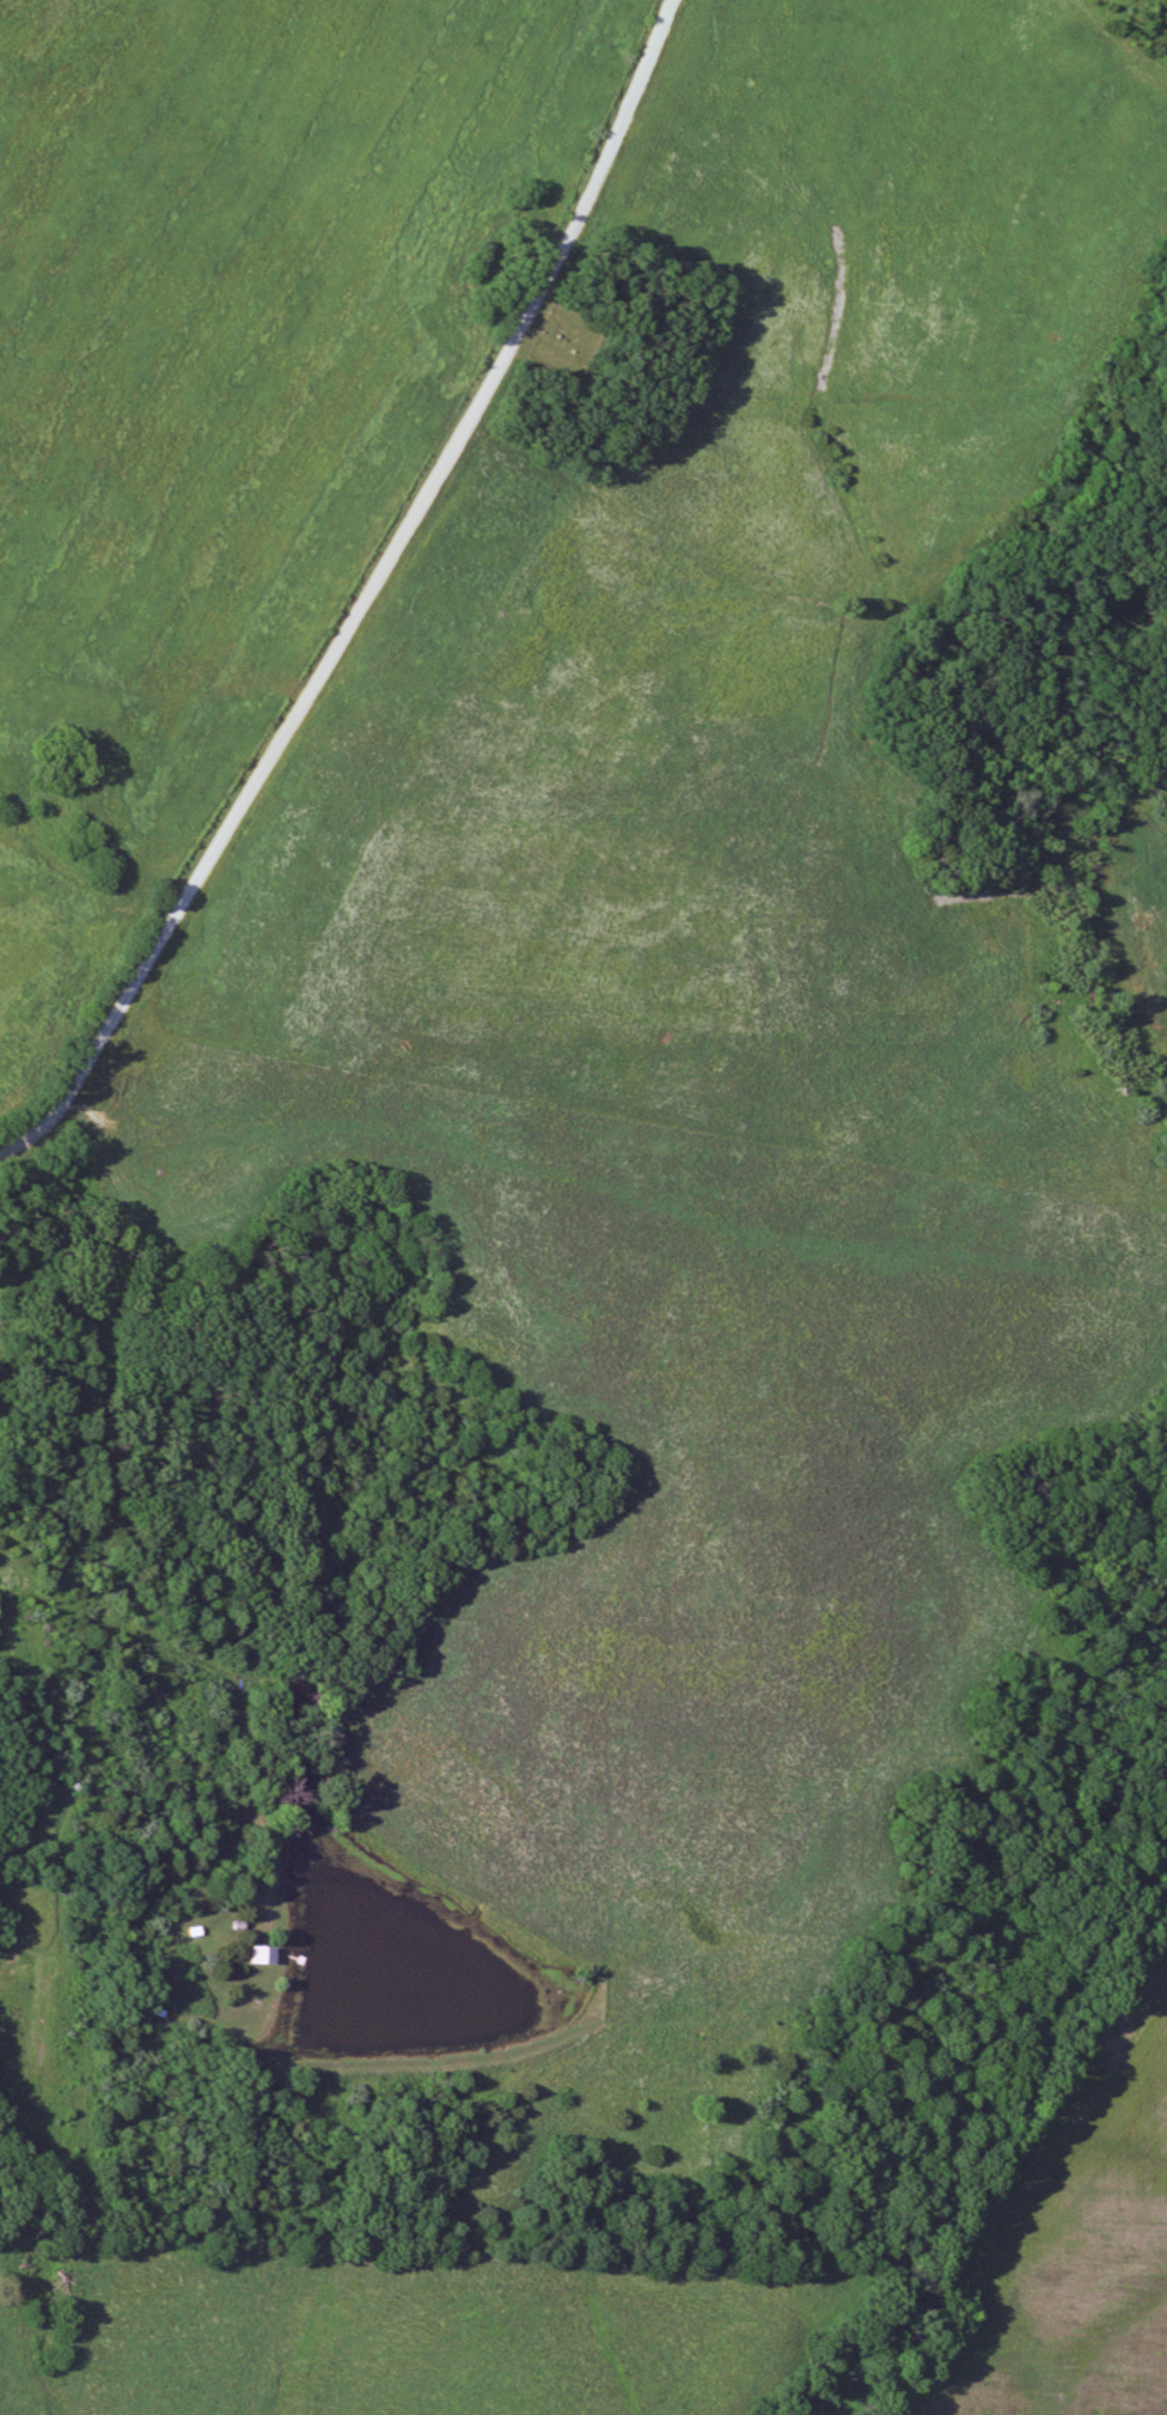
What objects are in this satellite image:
road: (363, 596)

